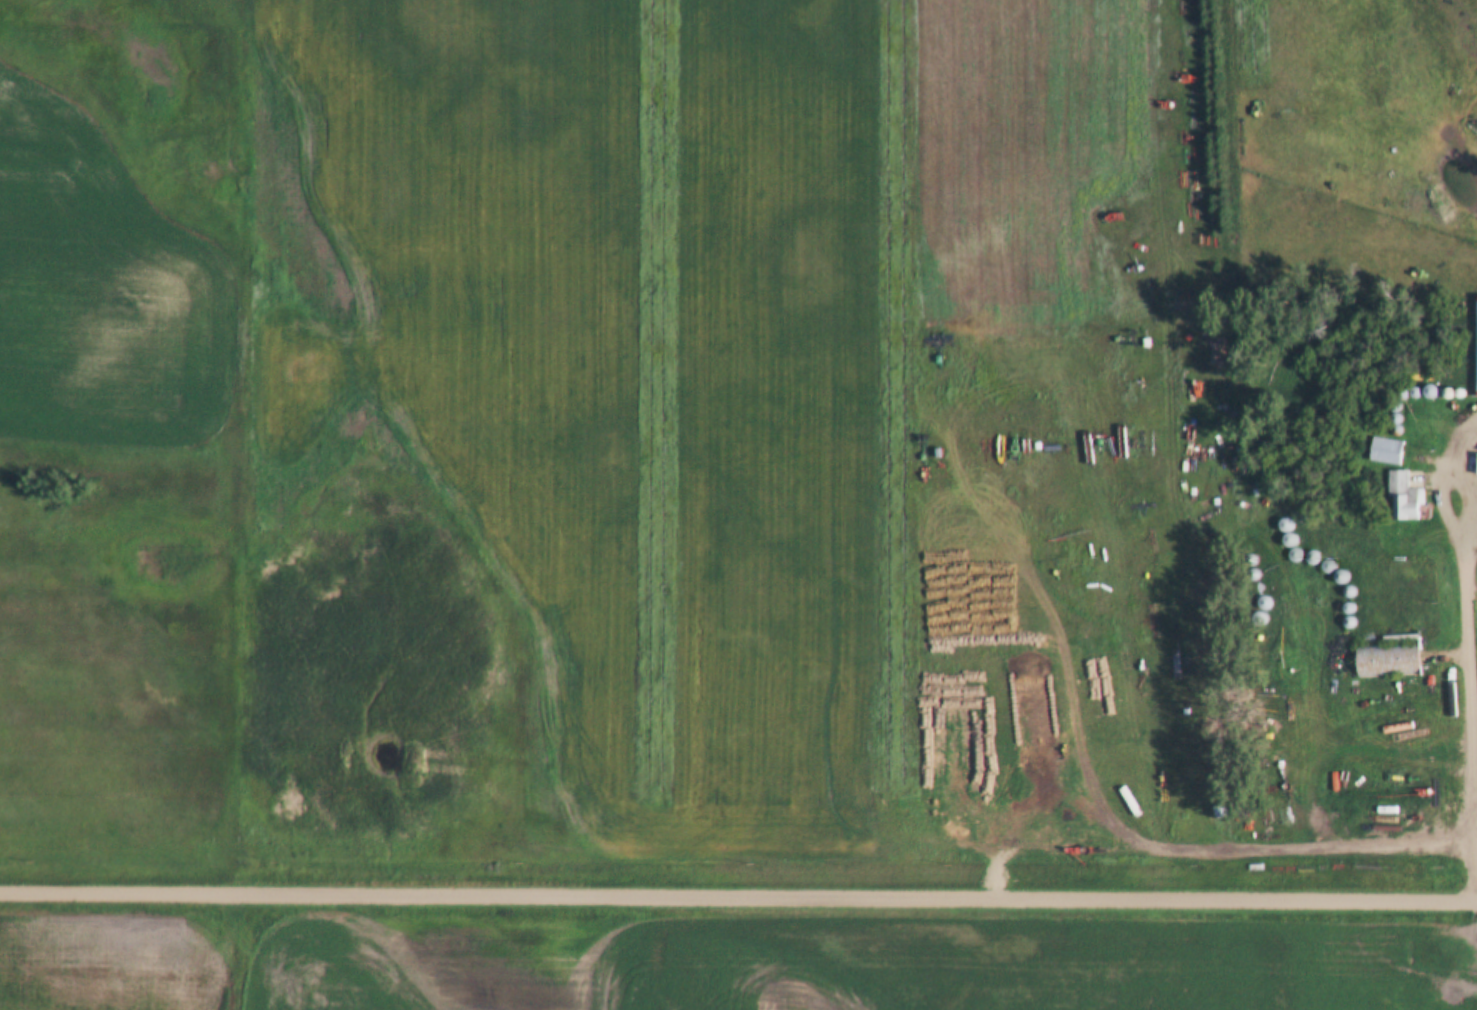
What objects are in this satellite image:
building: (1385, 449)
building: (1403, 496)
road: (1472, 677)
building: (1332, 781)
building: (1322, 784)
road: (738, 891)

